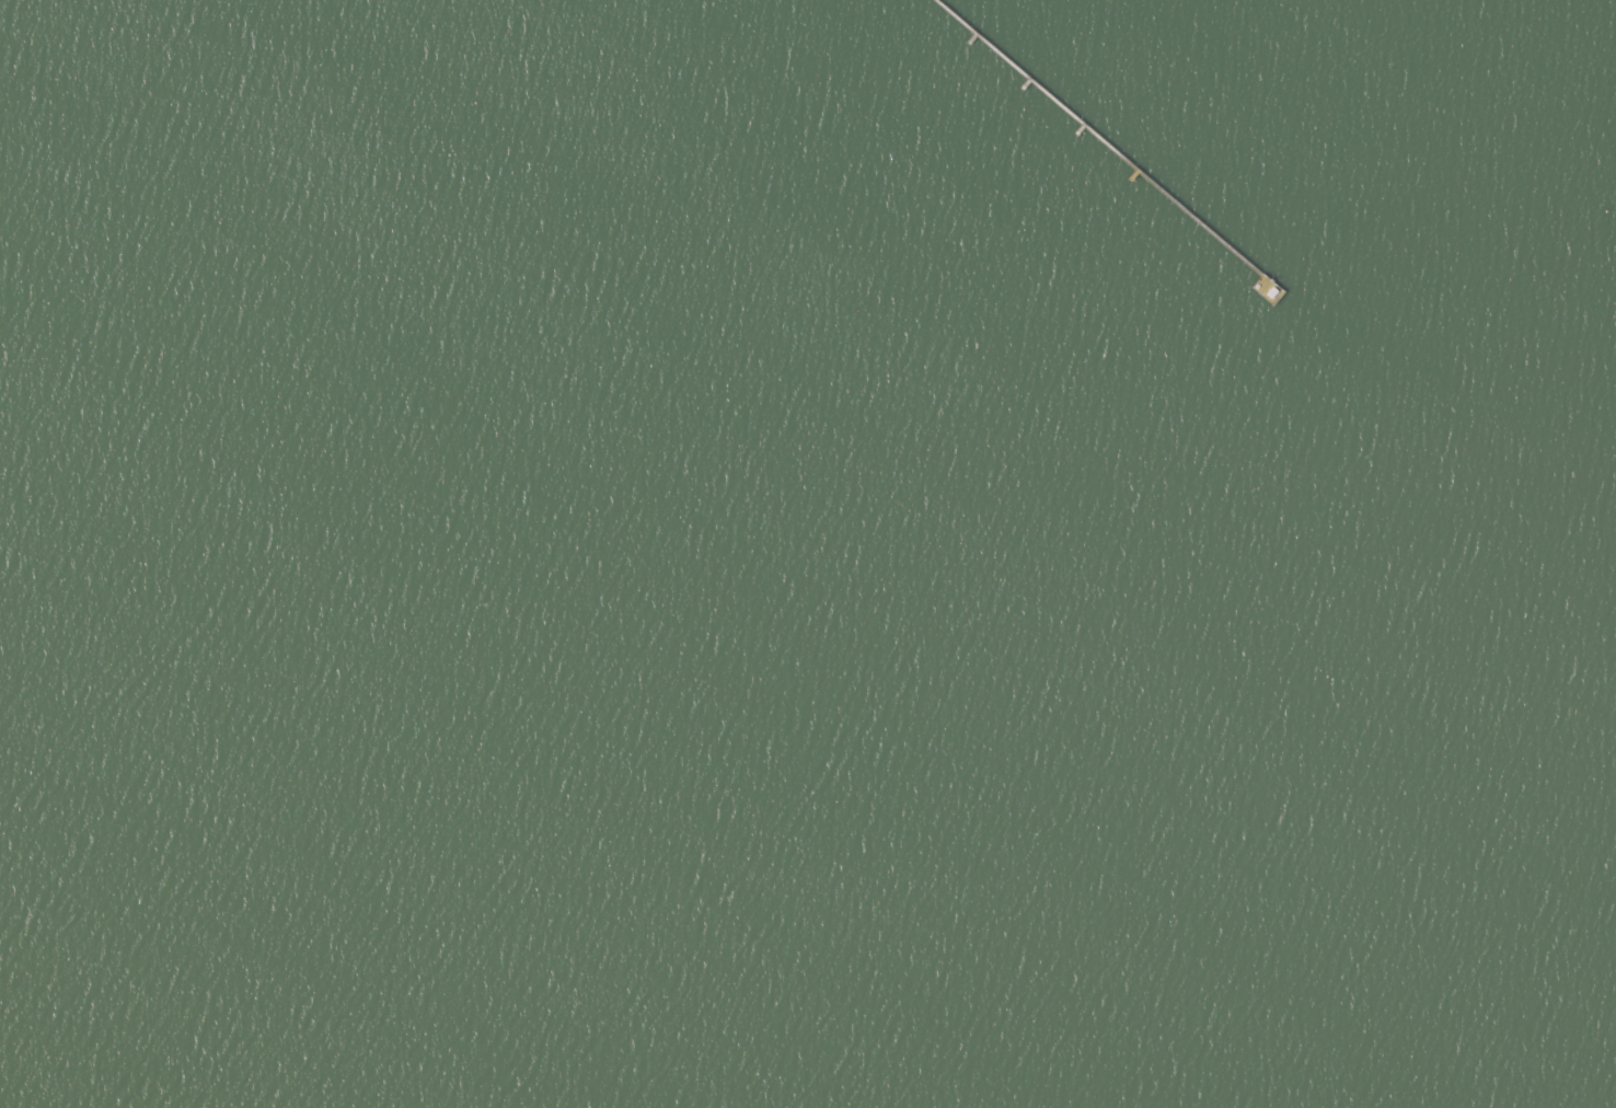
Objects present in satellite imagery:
pier: (1113, 148)

